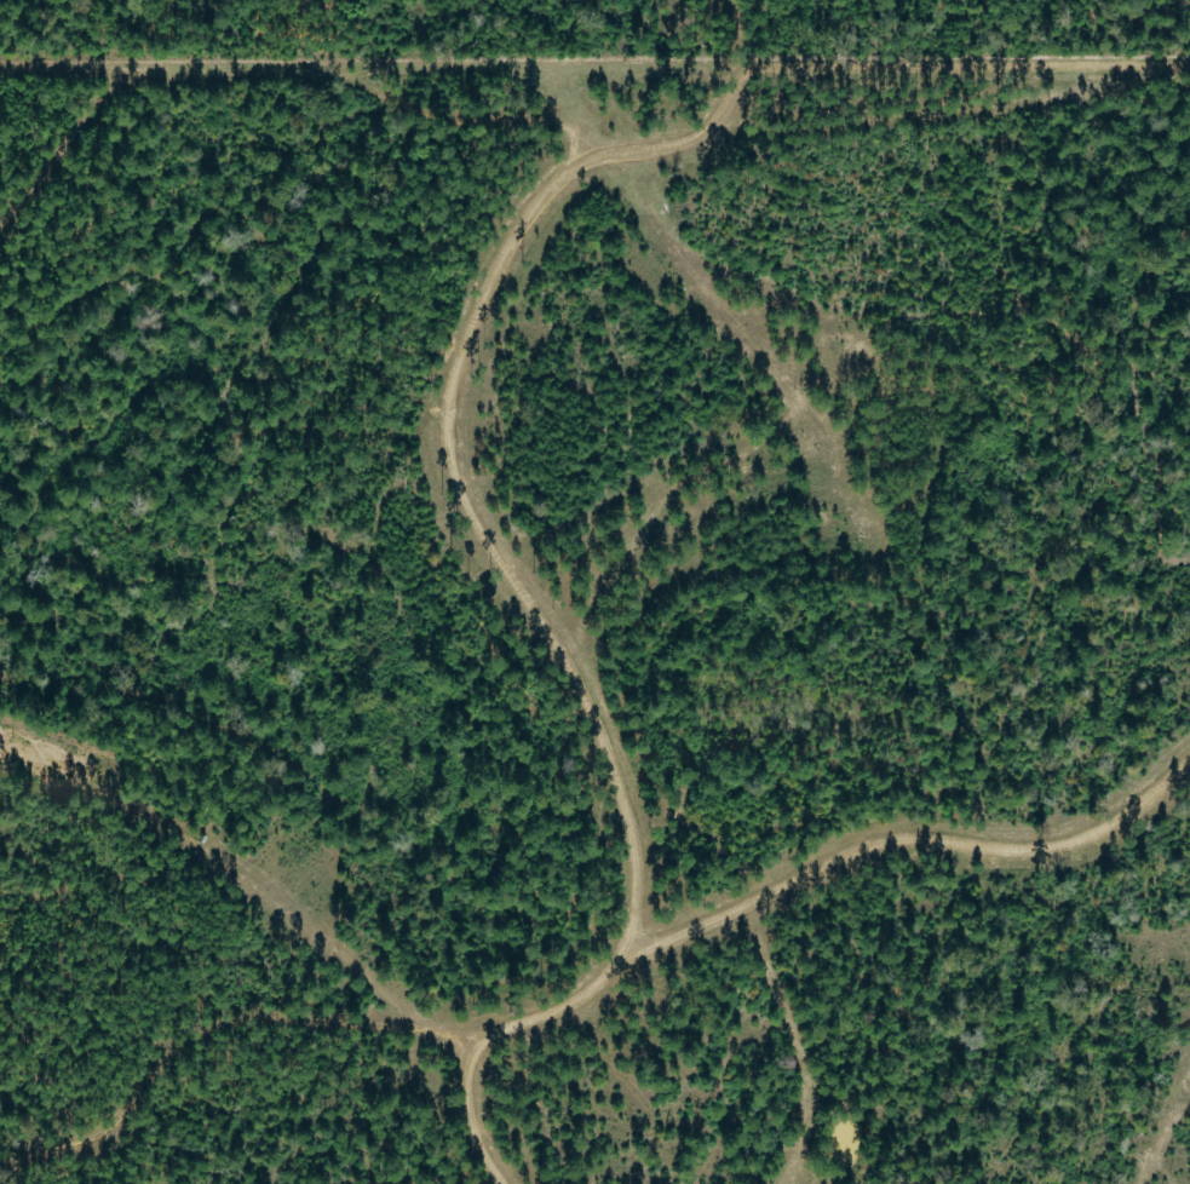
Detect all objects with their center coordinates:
road: (330, 40)
road: (945, 110)
road: (611, 179)
road: (507, 571)
road: (904, 832)
road: (245, 881)
road: (186, 1046)
road: (791, 1047)
road: (1165, 1133)

